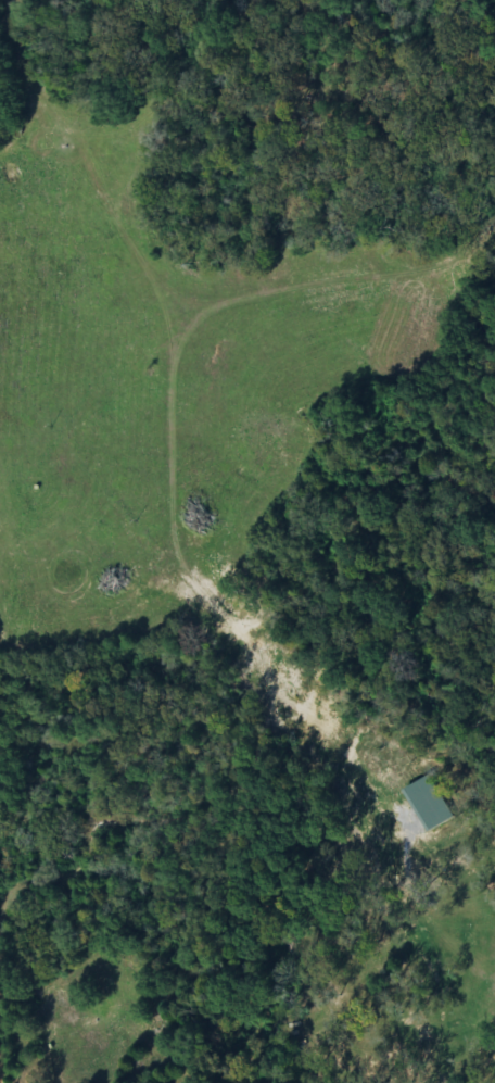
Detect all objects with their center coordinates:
building: (430, 805)

